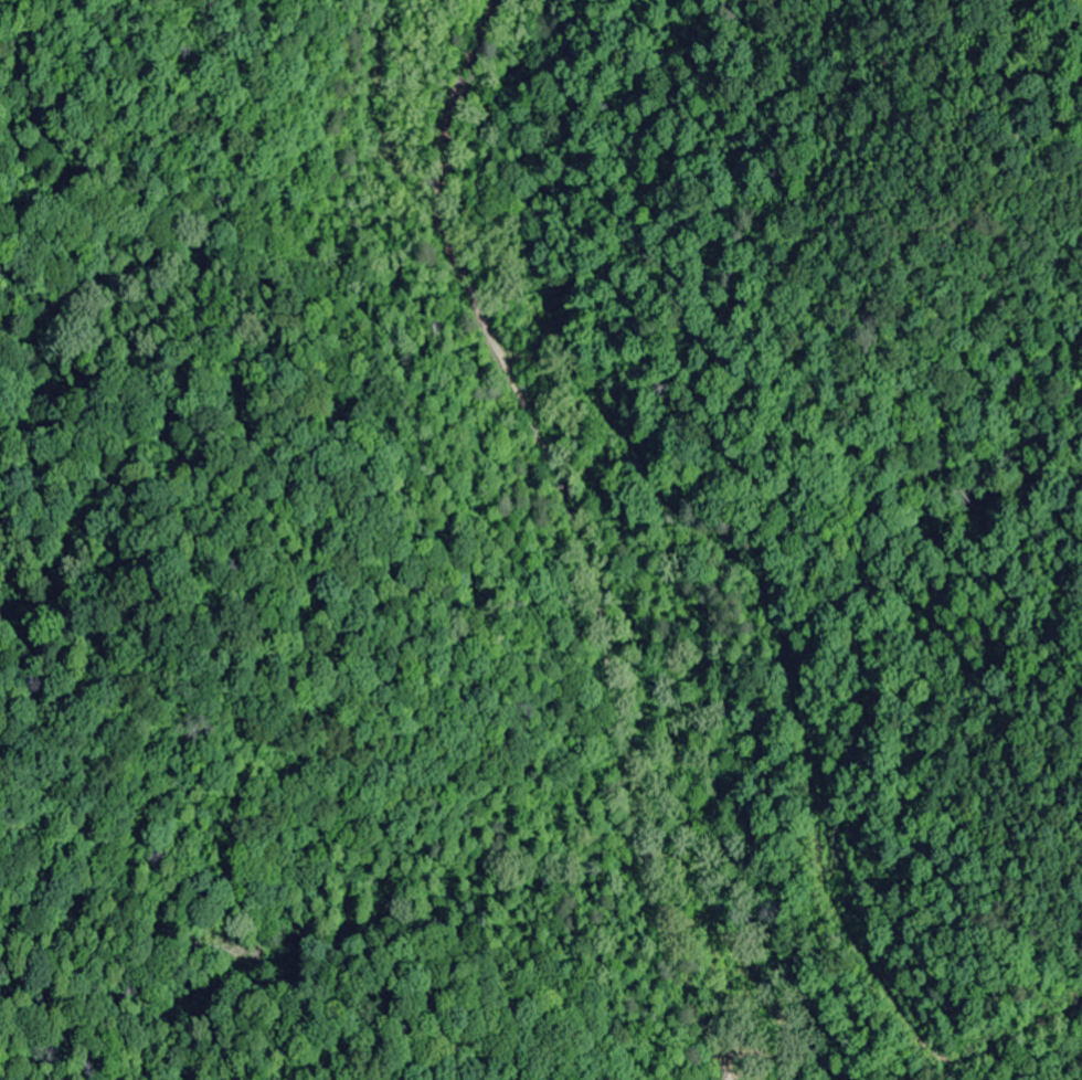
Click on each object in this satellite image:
road: (174, 246)
road: (484, 541)

